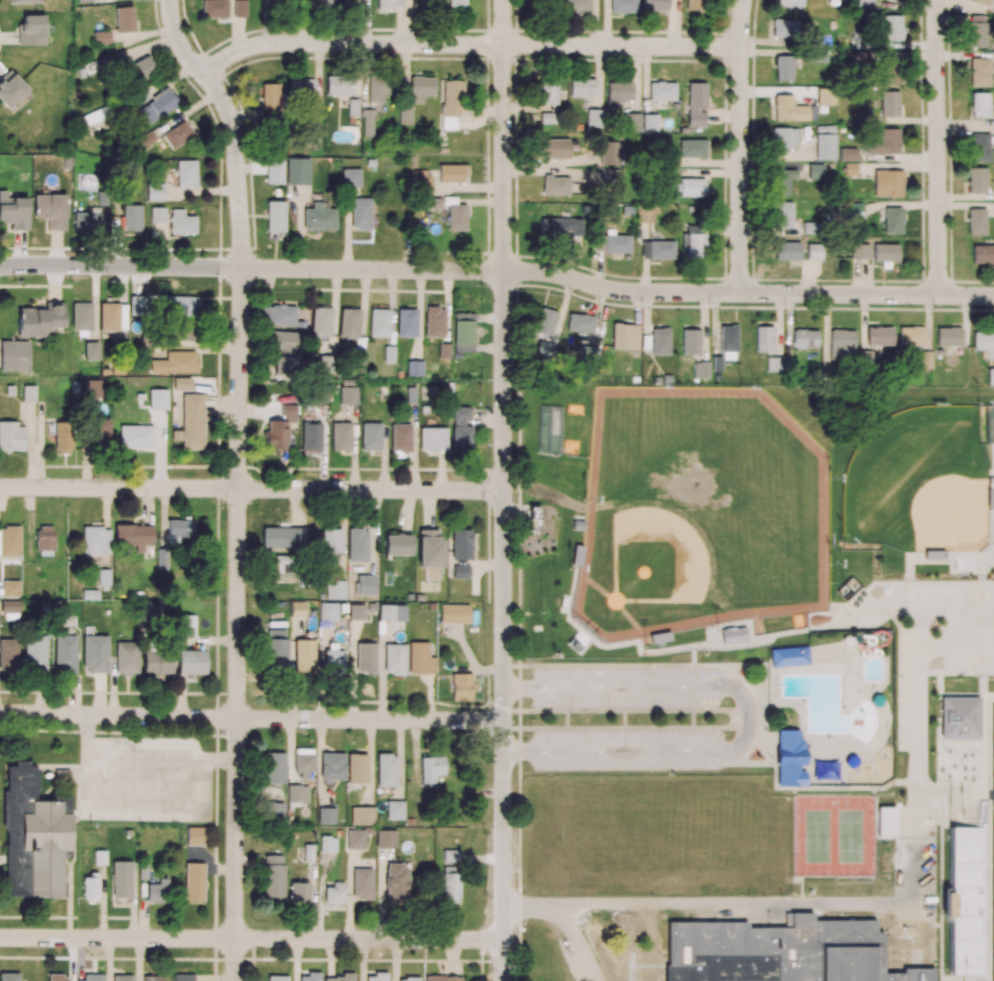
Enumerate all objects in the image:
road: (467, 44)
road: (504, 135)
road: (741, 146)
road: (938, 147)
road: (252, 268)
road: (747, 293)
road: (238, 481)
park: (918, 483)
road: (251, 489)
park: (699, 514)
road: (504, 626)
road: (744, 717)
road: (251, 719)
park: (818, 836)
park: (850, 836)
track: (993, 842)
building: (99, 856)
road: (908, 905)
road: (565, 921)
road: (252, 939)
building: (8, 976)
building: (376, 976)
building: (56, 977)
building: (277, 978)

